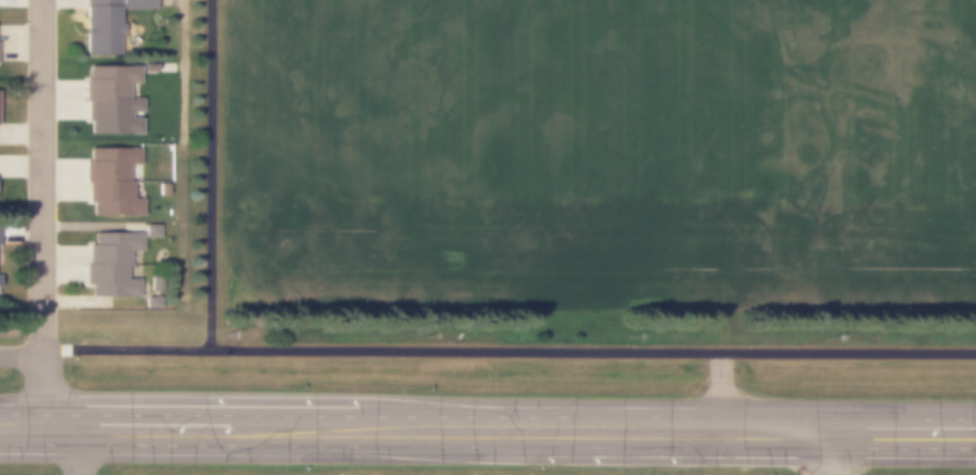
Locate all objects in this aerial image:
building: (104, 24)
building: (110, 94)
road: (181, 153)
road: (209, 176)
building: (111, 178)
road: (40, 180)
building: (163, 190)
building: (151, 229)
building: (109, 266)
building: (151, 300)
road: (506, 353)
road: (19, 359)
road: (488, 406)
road: (487, 445)
road: (91, 458)

